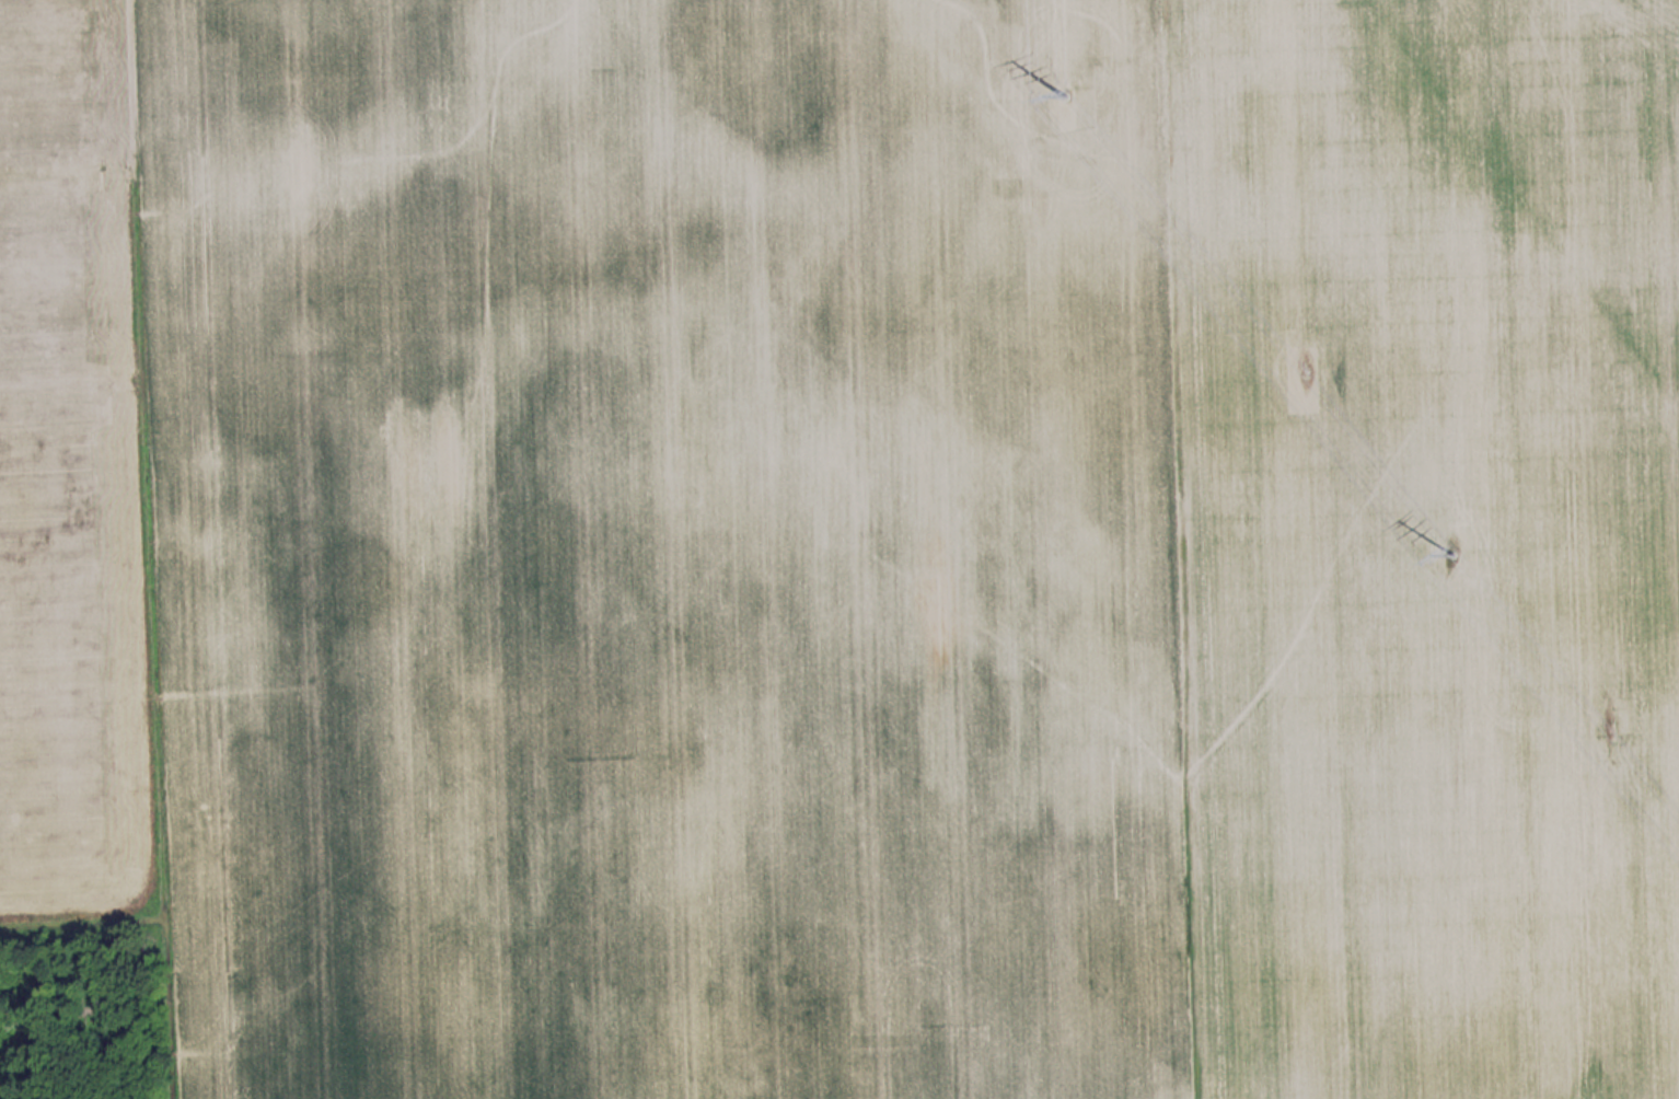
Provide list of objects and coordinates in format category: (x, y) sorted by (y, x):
power tower: (1061, 93)
power tower: (1452, 547)

